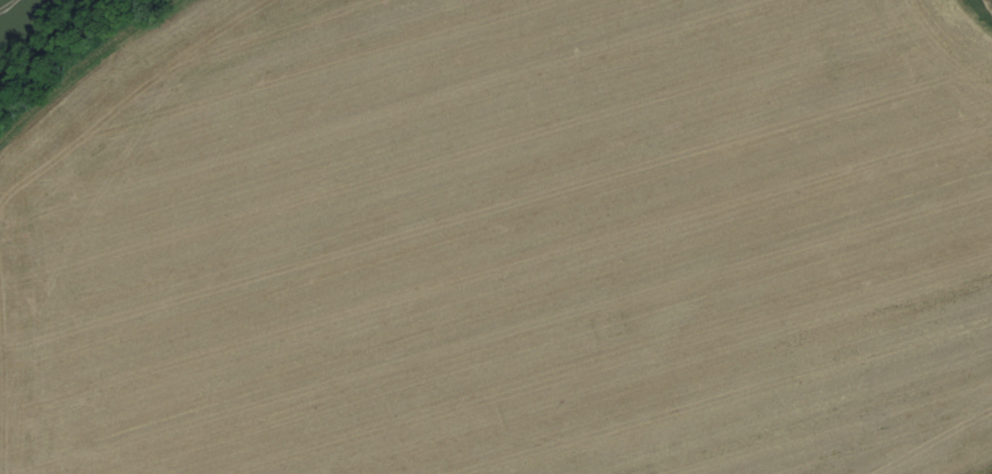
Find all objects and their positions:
crop: (513, 244)

